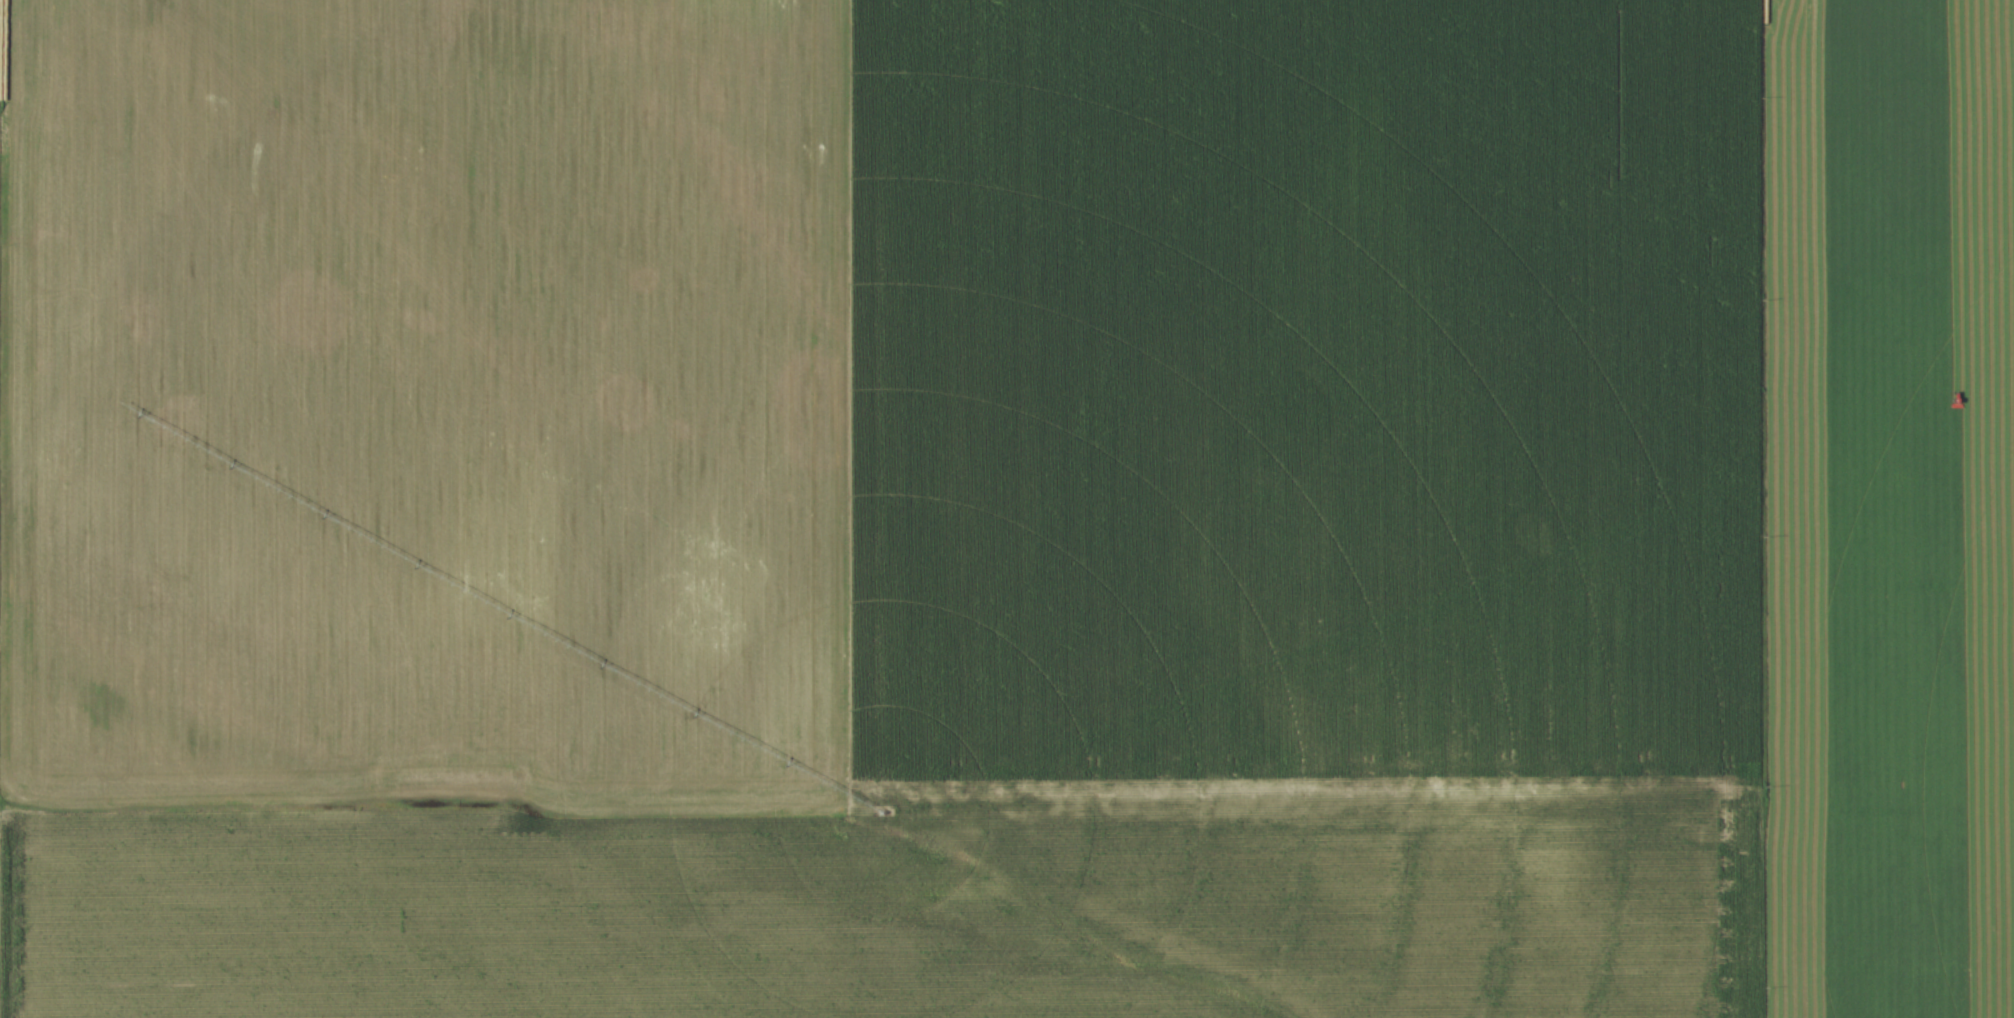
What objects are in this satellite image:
crop: (1035, 412)
crop: (898, 919)

